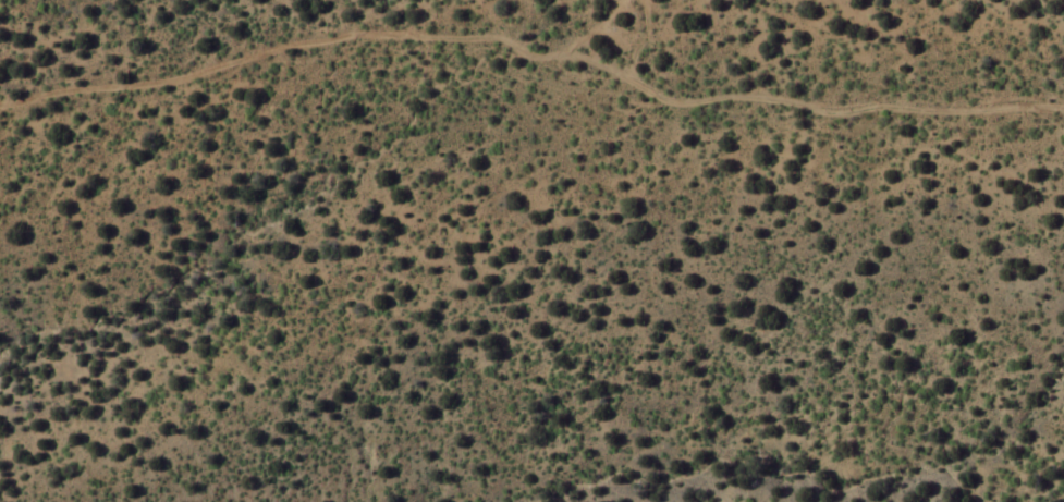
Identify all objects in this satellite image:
road: (660, 152)

